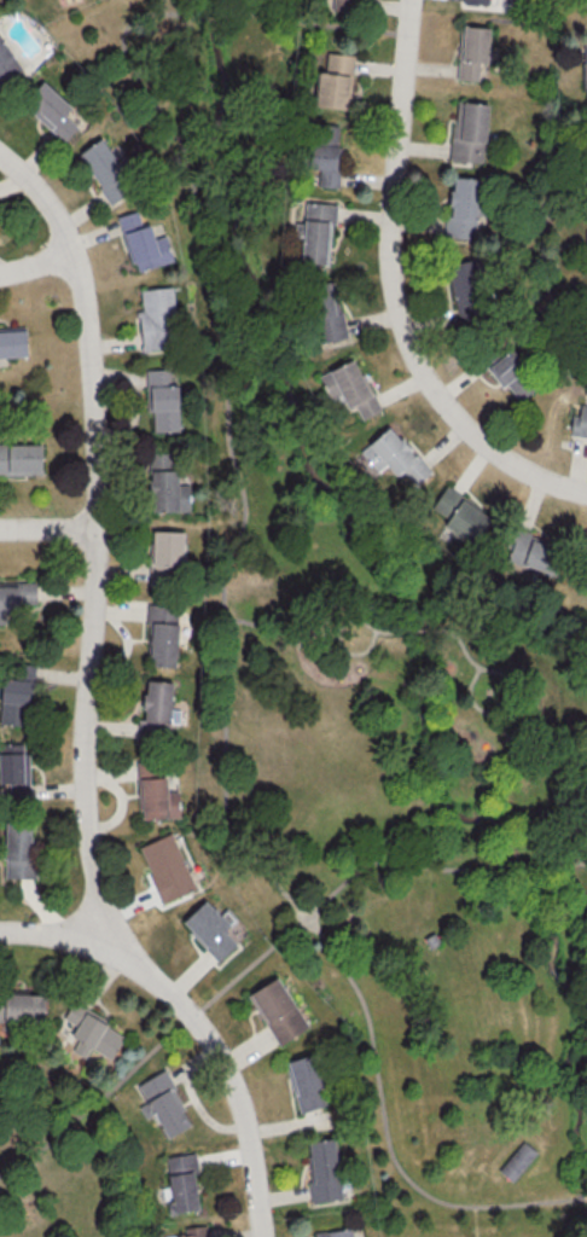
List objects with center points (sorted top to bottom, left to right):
building: (478, 1)
building: (342, 5)
road: (250, 14)
road: (211, 17)
road: (336, 27)
building: (472, 50)
building: (7, 63)
building: (585, 70)
building: (335, 81)
building: (50, 110)
building: (469, 130)
building: (322, 153)
building: (105, 169)
building: (463, 208)
building: (316, 231)
building: (586, 236)
building: (144, 243)
road: (39, 267)
building: (465, 286)
road: (395, 292)
building: (327, 309)
building: (156, 318)
building: (12, 342)
building: (512, 373)
building: (349, 387)
building: (162, 400)
building: (579, 423)
building: (394, 455)
building: (21, 458)
building: (165, 484)
building: (460, 515)
road: (50, 530)
building: (530, 551)
building: (165, 556)
building: (16, 597)
road: (425, 631)
building: (162, 632)
road: (321, 634)
road: (372, 641)
road: (341, 646)
road: (226, 669)
road: (512, 689)
building: (16, 696)
road: (86, 704)
building: (156, 709)
road: (508, 736)
building: (14, 771)
building: (156, 791)
building: (18, 849)
road: (560, 865)
building: (167, 867)
road: (523, 867)
building: (209, 929)
road: (81, 941)
building: (432, 941)
road: (239, 977)
building: (23, 1006)
building: (278, 1010)
building: (92, 1032)
building: (307, 1082)
building: (163, 1103)
building: (518, 1162)
building: (324, 1171)
building: (182, 1183)
road: (585, 1197)
building: (193, 1231)
building: (335, 1232)

